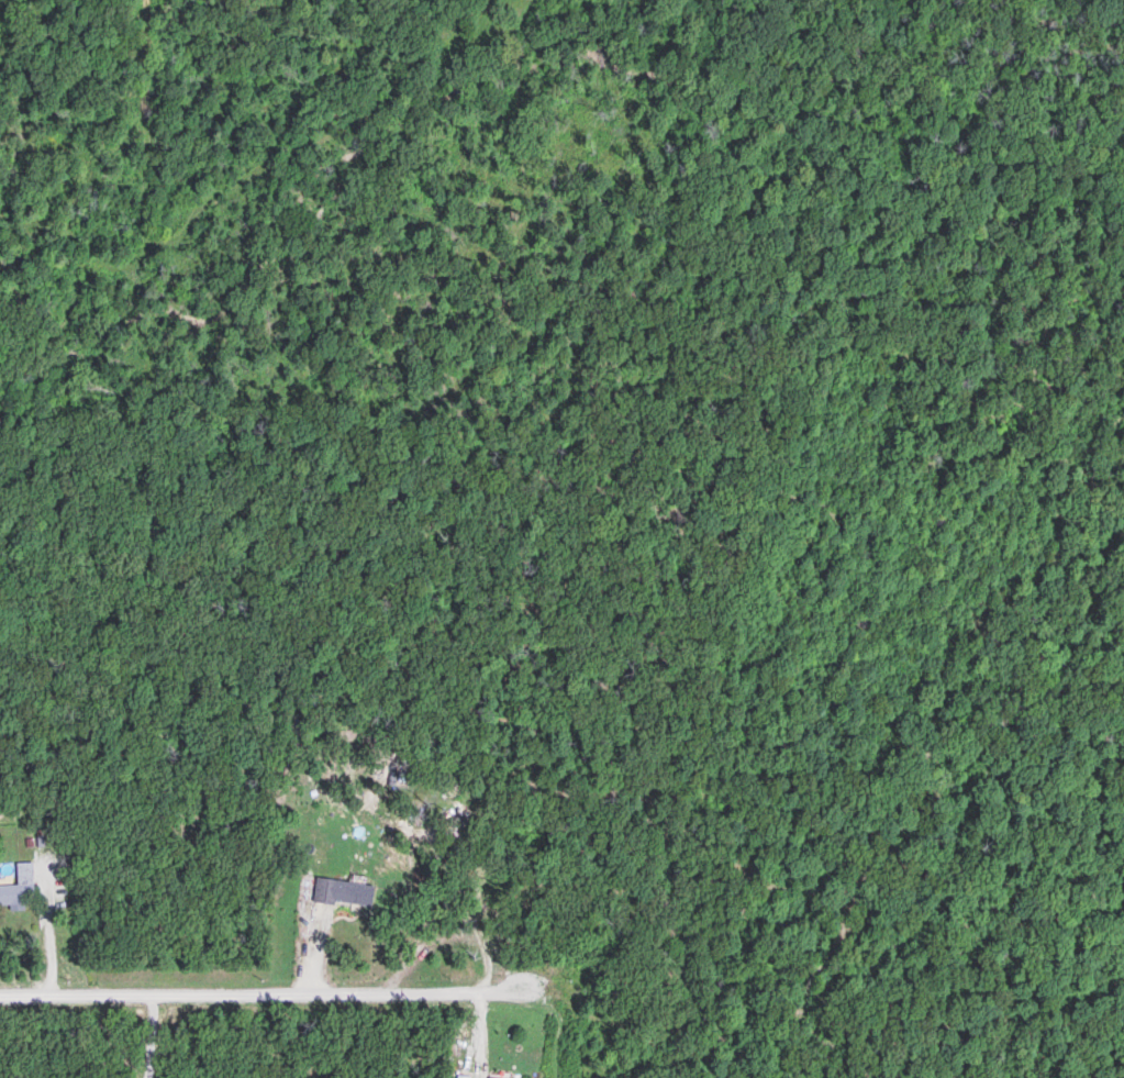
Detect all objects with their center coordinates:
building: (20, 888)
building: (344, 893)
road: (49, 942)
road: (245, 994)
road: (149, 1036)
building: (463, 1076)

